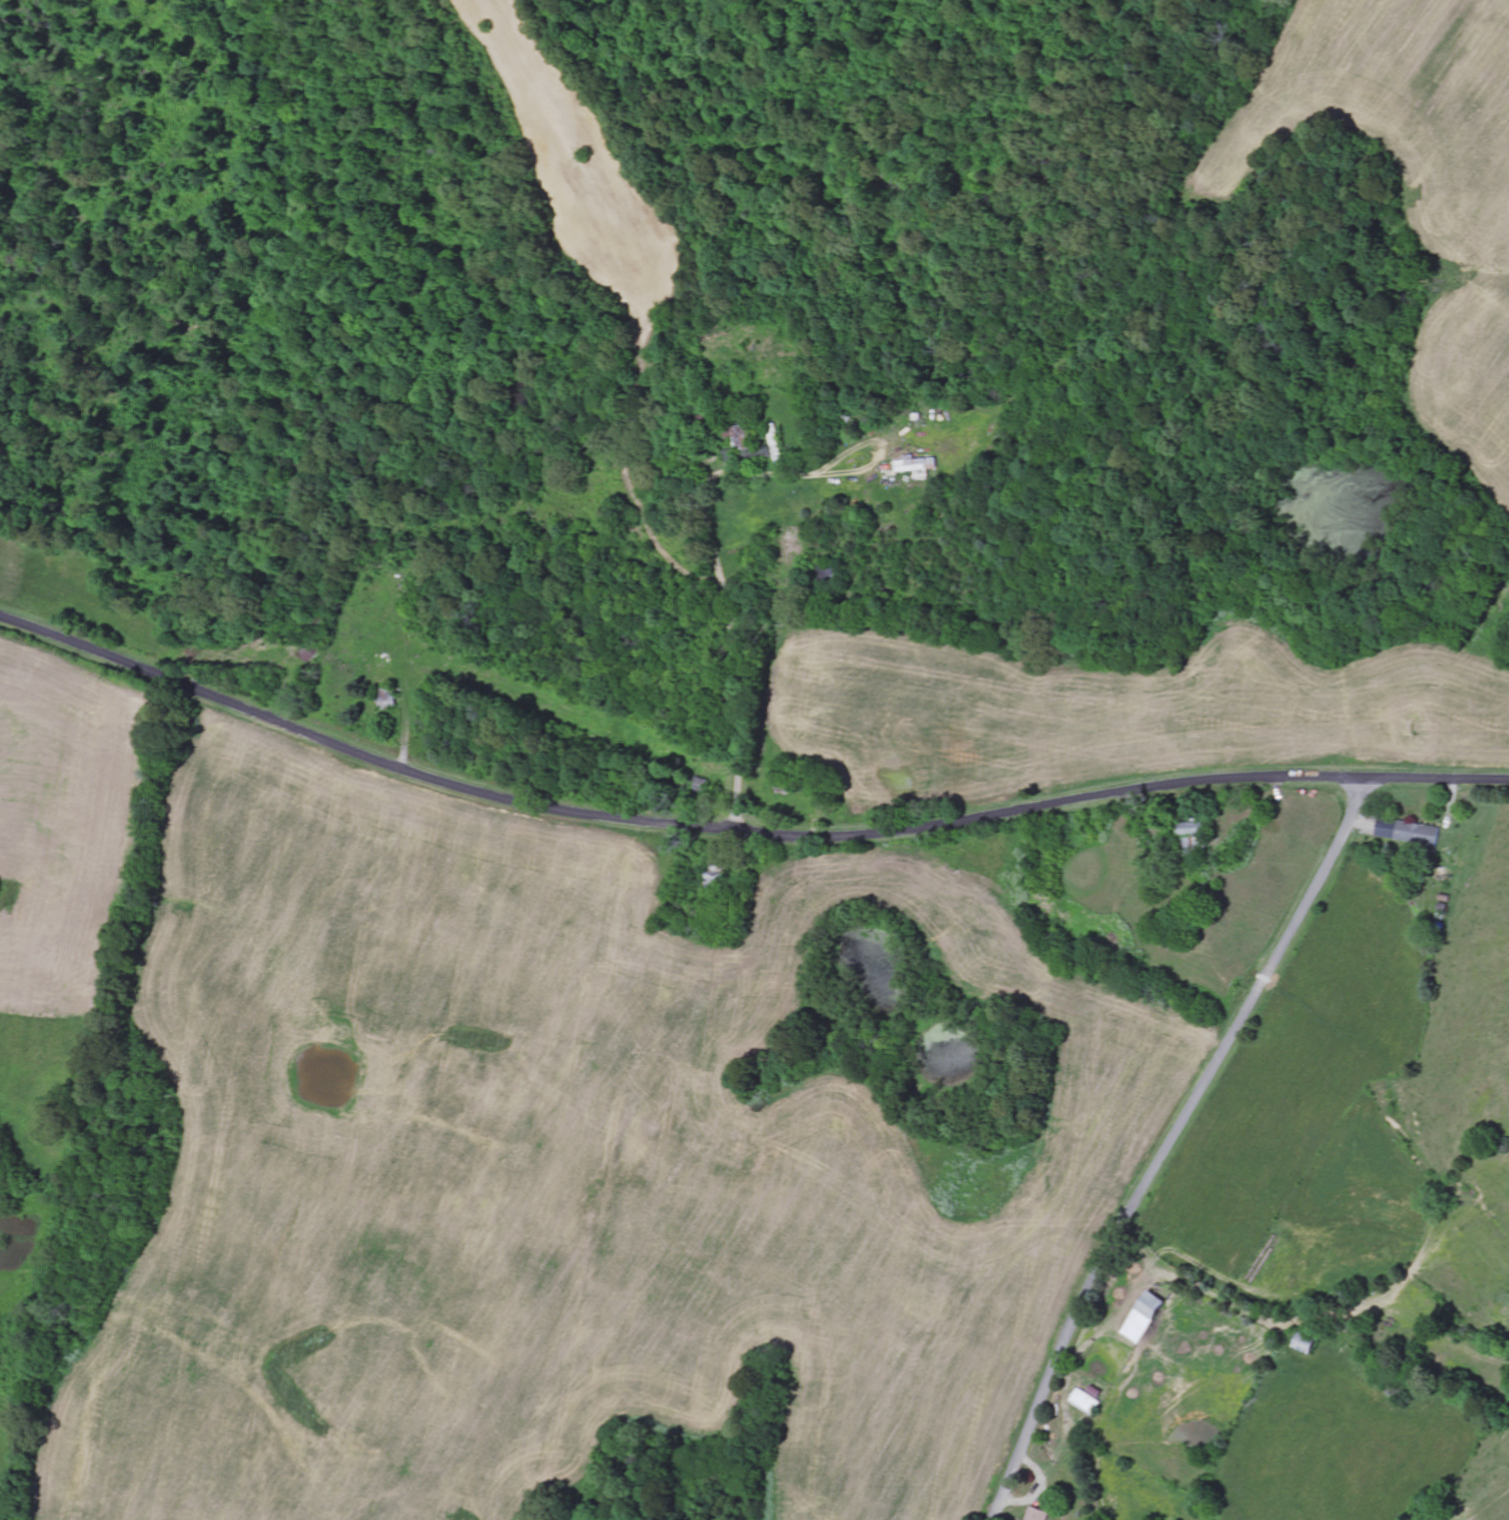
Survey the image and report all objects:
building: (919, 468)
road: (1229, 629)
road: (739, 830)
building: (1409, 834)
road: (1170, 1142)
building: (1144, 1319)
building: (1087, 1403)
building: (1039, 1515)

